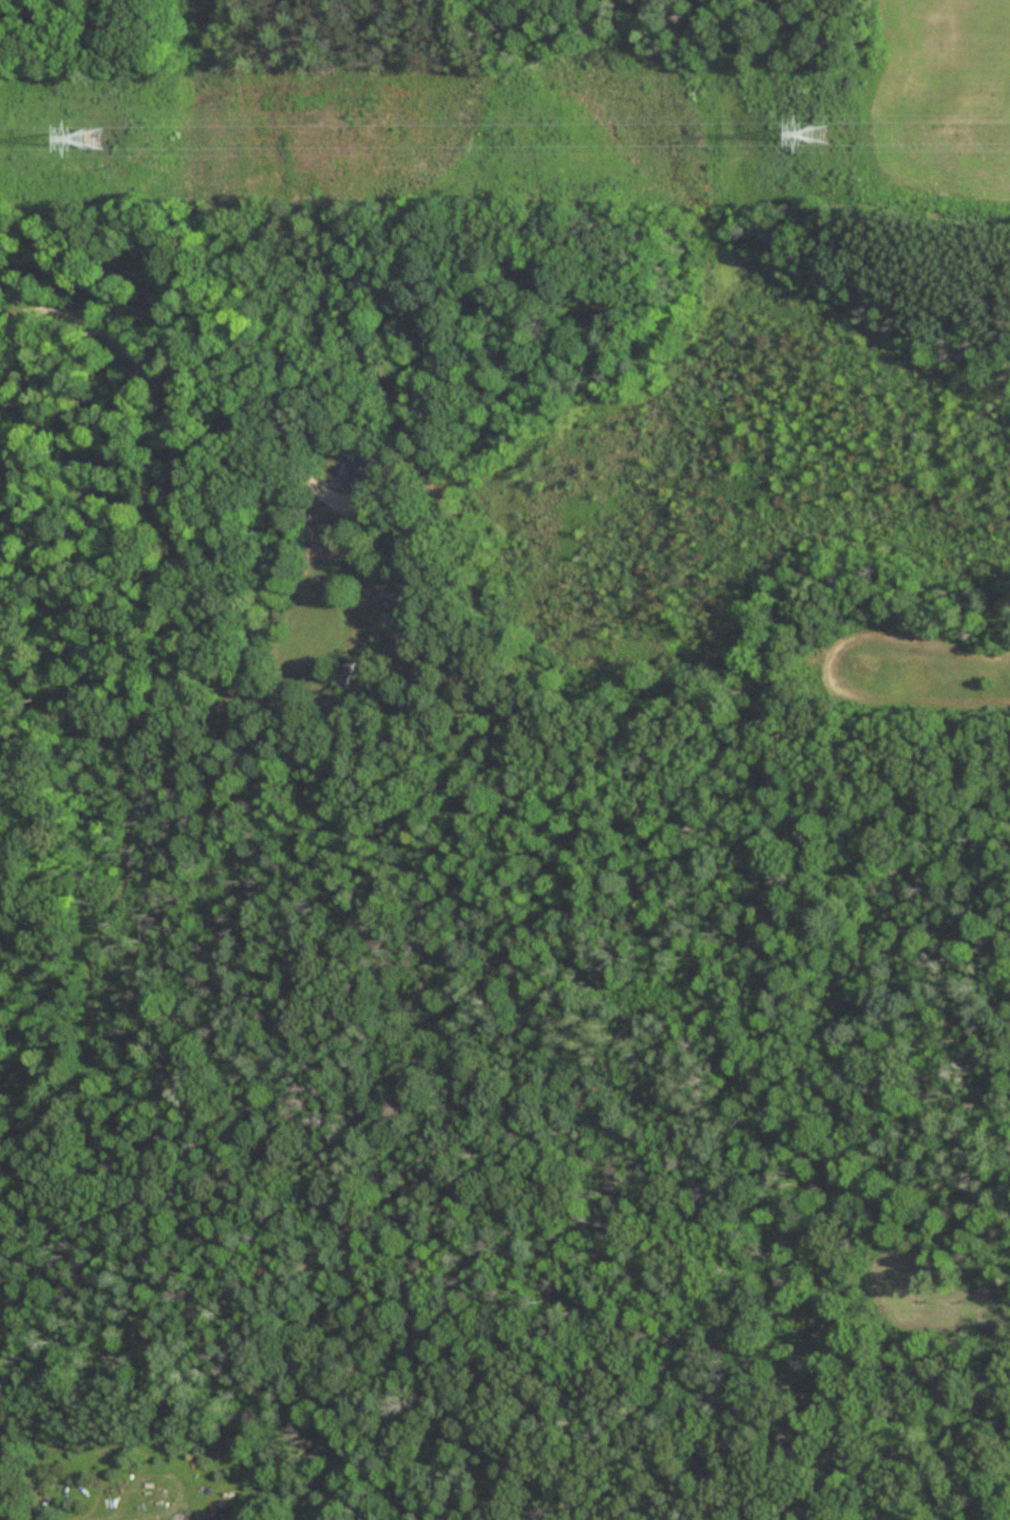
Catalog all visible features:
power tower: (820, 139)
power tower: (90, 143)
road: (170, 378)
building: (365, 474)
building: (342, 681)
building: (4, 1460)

